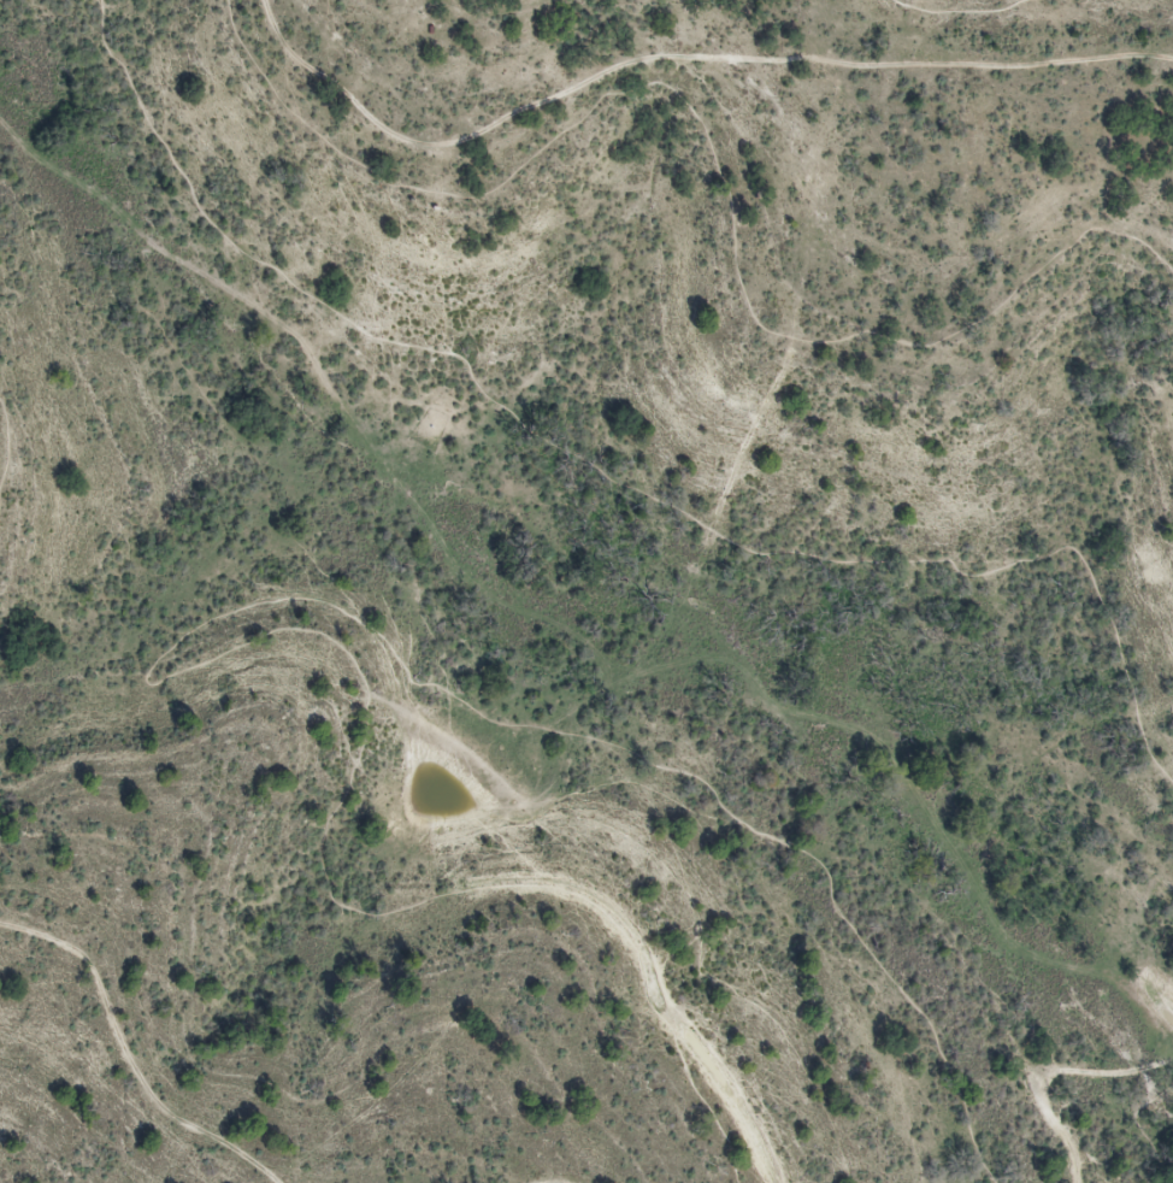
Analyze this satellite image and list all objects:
road: (959, 12)
road: (676, 58)
road: (711, 154)
road: (5, 442)
road: (607, 483)
road: (171, 649)
road: (130, 1055)
road: (1037, 1069)
road: (1139, 1123)
road: (553, 1182)

